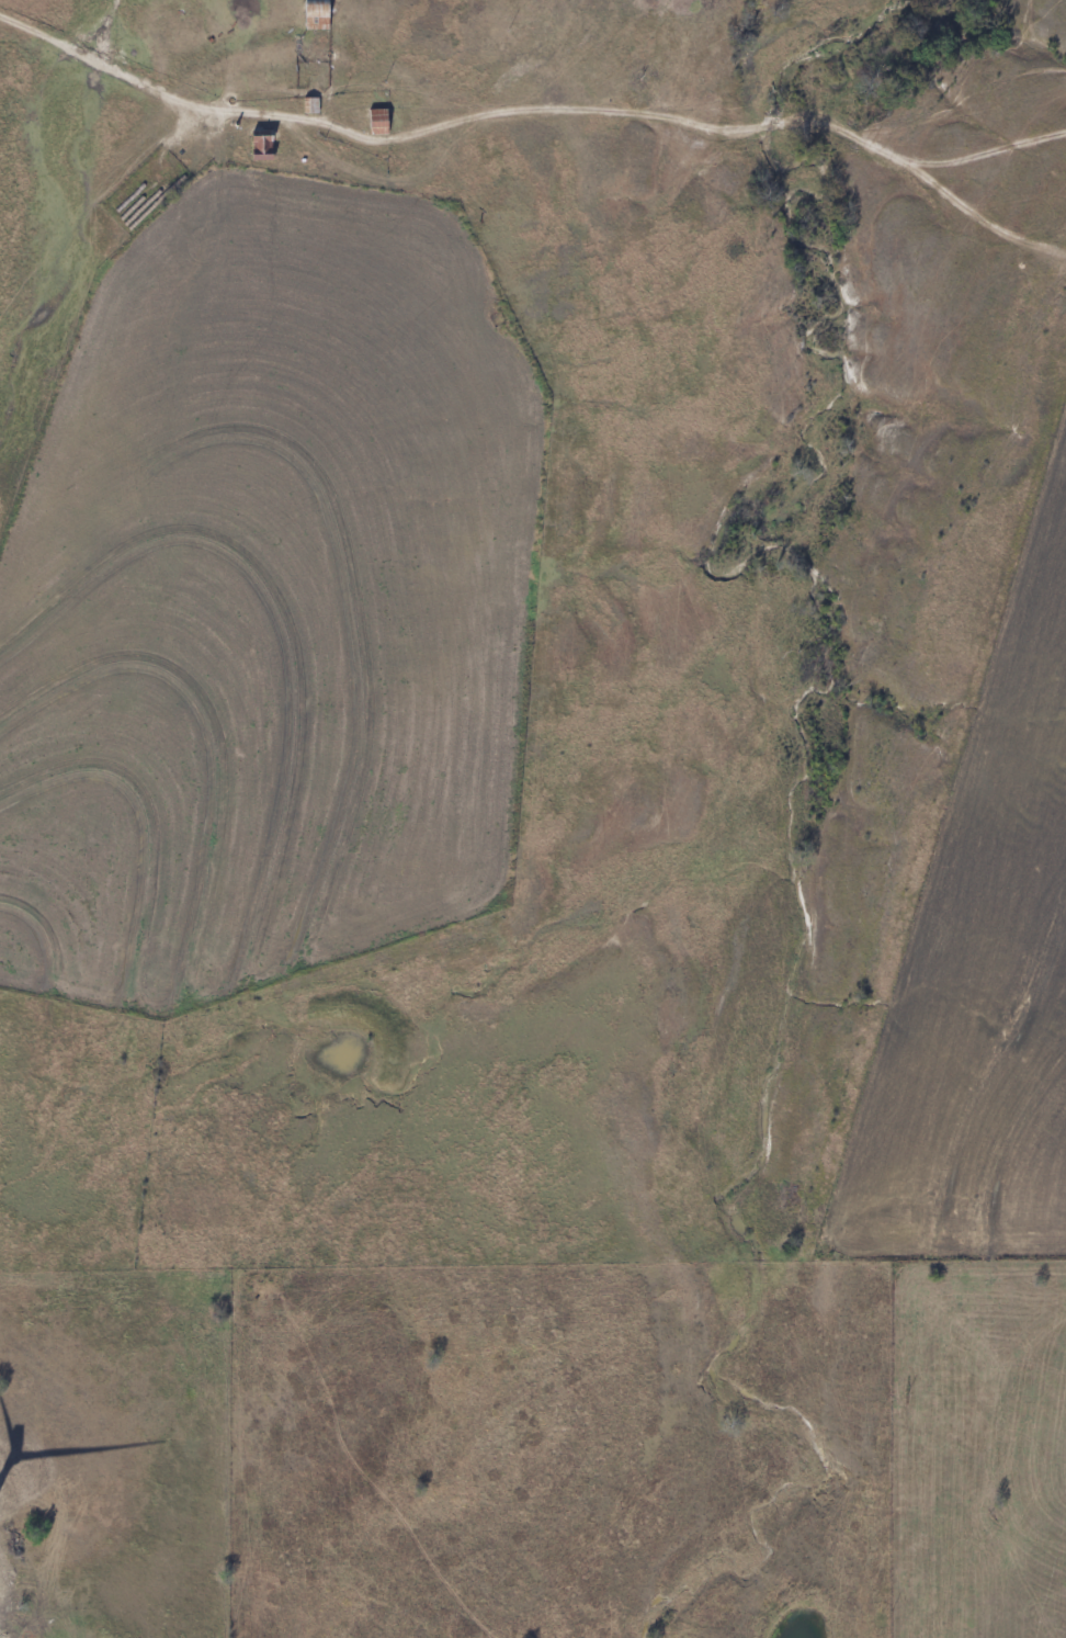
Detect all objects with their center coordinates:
building: (315, 14)
road: (517, 110)
building: (376, 122)
building: (260, 145)

